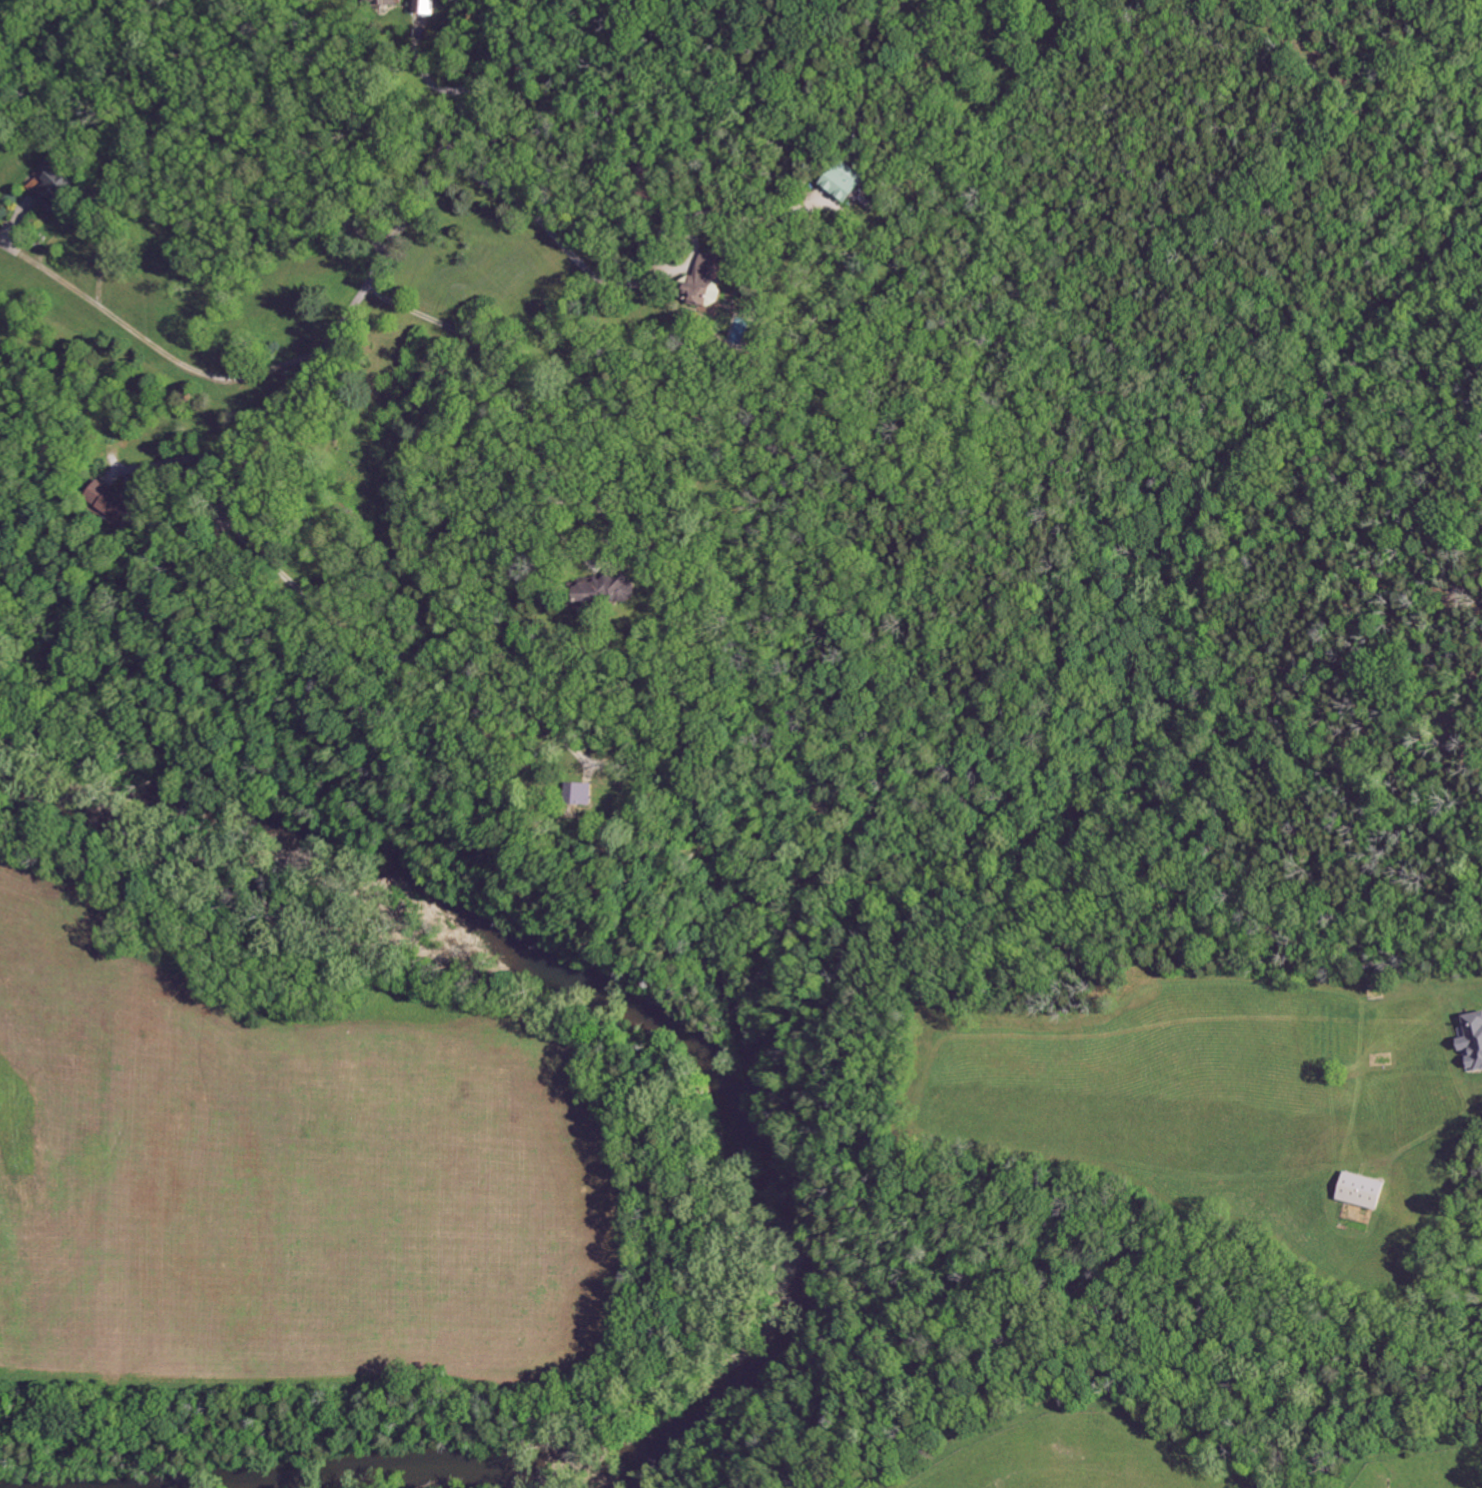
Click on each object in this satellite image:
building: (388, 3)
road: (423, 70)
building: (846, 182)
building: (57, 186)
building: (825, 199)
road: (554, 249)
road: (379, 259)
building: (704, 280)
road: (139, 334)
road: (515, 391)
road: (189, 460)
building: (116, 501)
building: (611, 591)
road: (383, 644)
building: (585, 795)
river: (623, 1003)
building: (1474, 1042)
building: (1364, 1192)
river: (361, 1476)

